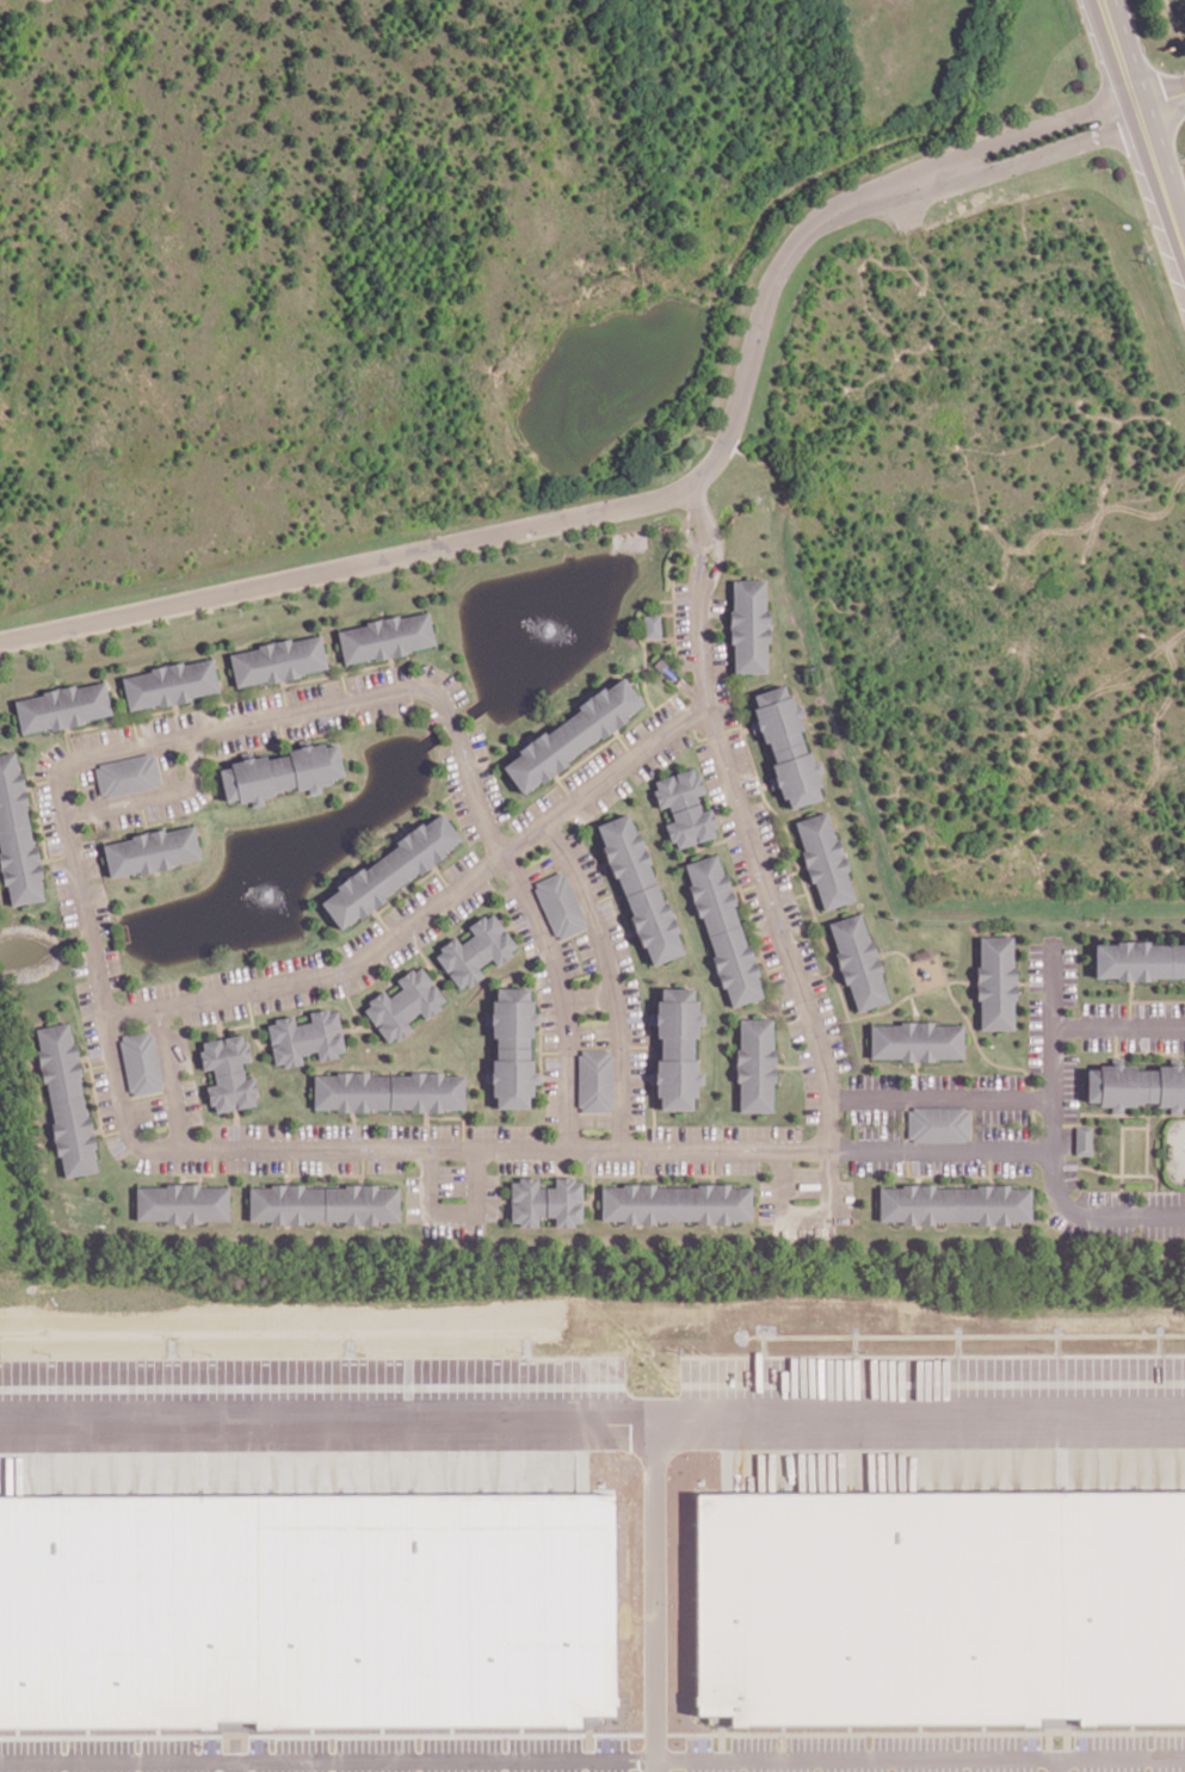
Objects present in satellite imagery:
road: (1119, 54)
road: (1161, 101)
road: (1033, 124)
road: (1149, 143)
road: (1043, 152)
road: (1173, 214)
road: (695, 502)
road: (560, 518)
road: (698, 554)
road: (717, 554)
street lamp: (724, 558)
road: (679, 598)
road: (673, 605)
parking lot: (716, 605)
building: (650, 624)
building: (748, 624)
parking lot: (683, 625)
road: (710, 626)
building: (384, 636)
building: (277, 659)
road: (643, 671)
road: (337, 672)
road: (394, 672)
parking lot: (379, 675)
parking lot: (443, 680)
building: (168, 683)
parking lot: (721, 683)
road: (344, 685)
parking lot: (314, 690)
road: (284, 696)
street lamp: (421, 702)
parking lot: (252, 703)
building: (61, 705)
parking lot: (384, 709)
parking lot: (430, 715)
building: (777, 715)
parking lot: (654, 718)
parking lot: (178, 720)
road: (105, 722)
parking lot: (315, 723)
road: (280, 727)
road: (746, 727)
road: (68, 728)
road: (210, 728)
road: (136, 729)
building: (569, 733)
road: (714, 733)
parking lot: (101, 736)
parking lot: (245, 737)
road: (277, 741)
road: (623, 741)
road: (587, 754)
parking lot: (661, 754)
road: (665, 754)
parking lot: (166, 755)
parking lot: (49, 758)
parking lot: (743, 760)
building: (278, 771)
parking lot: (486, 771)
parking lot: (169, 772)
parking lot: (85, 773)
building: (126, 773)
parking lot: (712, 773)
building: (797, 773)
road: (41, 779)
street lamp: (76, 783)
road: (764, 783)
road: (564, 785)
building: (678, 789)
parking lot: (90, 790)
building: (12, 792)
parking lot: (457, 792)
road: (153, 794)
street lamp: (755, 796)
parking lot: (600, 801)
parking lot: (180, 802)
parking lot: (537, 807)
road: (143, 811)
parking lot: (50, 816)
parking lot: (115, 820)
road: (160, 820)
street lamp: (568, 823)
building: (690, 823)
street lamp: (506, 826)
parking lot: (766, 828)
road: (721, 838)
parking lot: (735, 845)
building: (149, 850)
building: (624, 851)
road: (58, 854)
parking lot: (92, 857)
building: (823, 859)
parking lot: (549, 862)
parking lot: (585, 862)
building: (21, 863)
parking lot: (461, 864)
building: (387, 869)
parking lot: (533, 869)
road: (760, 869)
road: (443, 877)
street lamp: (498, 879)
road: (753, 884)
road: (403, 889)
parking lot: (64, 893)
building: (711, 893)
road: (790, 896)
road: (601, 897)
road: (617, 897)
parking lot: (789, 897)
parking lot: (468, 900)
building: (557, 903)
parking lot: (100, 906)
road: (428, 909)
road: (518, 919)
building: (653, 921)
road: (385, 922)
parking lot: (521, 924)
parking lot: (764, 926)
road: (753, 927)
road: (819, 927)
parking lot: (616, 934)
parking lot: (359, 940)
parking lot: (412, 943)
building: (475, 947)
parking lot: (587, 950)
road: (422, 952)
road: (937, 953)
parking lot: (572, 956)
road: (759, 956)
road: (907, 958)
building: (1130, 959)
building: (1177, 959)
building: (857, 961)
parking lot: (295, 962)
building: (735, 963)
parking lot: (810, 963)
parking lot: (111, 964)
road: (779, 964)
parking lot: (226, 976)
road: (439, 976)
road: (611, 978)
building: (995, 981)
road: (1035, 981)
parking lot: (352, 982)
parking lot: (158, 989)
street lamp: (119, 993)
road: (563, 995)
road: (590, 995)
street lamp: (945, 998)
parking lot: (285, 999)
road: (348, 999)
road: (1156, 1000)
building: (403, 1002)
road: (1129, 1002)
parking lot: (789, 1004)
road: (913, 1005)
parking lot: (548, 1007)
parking lot: (632, 1008)
street lamp: (1073, 1008)
parking lot: (1103, 1008)
parking lot: (1159, 1008)
parking lot: (214, 1012)
building: (511, 1014)
building: (675, 1015)
parking lot: (90, 1019)
road: (252, 1020)
street lamp: (180, 1021)
road: (236, 1025)
road: (1118, 1025)
road: (218, 1027)
road: (358, 1027)
parking lot: (603, 1032)
parking lot: (832, 1032)
parking lot: (585, 1033)
parking lot: (1036, 1033)
building: (305, 1035)
road: (1115, 1038)
building: (915, 1039)
parking lot: (1094, 1042)
parking lot: (1152, 1042)
road: (643, 1044)
road: (979, 1045)
road: (539, 1046)
parking lot: (180, 1049)
road: (554, 1050)
road: (1051, 1051)
building: (222, 1052)
building: (61, 1061)
building: (140, 1061)
road: (98, 1062)
building: (755, 1062)
road: (800, 1064)
building: (511, 1075)
building: (675, 1075)
road: (169, 1076)
road: (554, 1076)
building: (594, 1079)
street lamp: (844, 1079)
road: (915, 1079)
parking lot: (875, 1080)
parking lot: (936, 1080)
parking lot: (996, 1080)
parking lot: (810, 1083)
building: (1113, 1083)
building: (1166, 1085)
parking lot: (1068, 1086)
parking lot: (553, 1087)
building: (229, 1088)
parking lot: (637, 1088)
building: (350, 1089)
building: (425, 1089)
parking lot: (105, 1097)
road: (940, 1097)
parking lot: (191, 1101)
road: (98, 1105)
parking lot: (159, 1109)
road: (1117, 1111)
parking lot: (141, 1112)
parking lot: (875, 1113)
parking lot: (1000, 1113)
road: (461, 1116)
road: (653, 1116)
road: (427, 1117)
parking lot: (586, 1119)
parking lot: (604, 1119)
building: (938, 1122)
road: (235, 1126)
road: (99, 1128)
parking lot: (337, 1129)
road: (356, 1129)
street lamp: (718, 1129)
street lamp: (809, 1129)
parking lot: (251, 1130)
parking lot: (422, 1130)
parking lot: (505, 1130)
parking lot: (681, 1131)
parking lot: (763, 1131)
parking lot: (878, 1131)
parking lot: (1000, 1131)
street lamp: (594, 1132)
building: (75, 1134)
building: (1081, 1138)
road: (1146, 1142)
parking lot: (116, 1144)
road: (1119, 1144)
road: (612, 1148)
park: (1132, 1149)
road: (289, 1159)
road: (638, 1160)
road: (712, 1160)
parking lot: (172, 1162)
parking lot: (252, 1163)
parking lot: (327, 1163)
parking lot: (385, 1163)
street lamp: (492, 1163)
parking lot: (531, 1163)
parking lot: (606, 1163)
parking lot: (737, 1163)
parking lot: (674, 1165)
street lamp: (766, 1165)
parking lot: (948, 1165)
parking lot: (1011, 1165)
street lamp: (1035, 1166)
road: (206, 1172)
road: (334, 1172)
road: (1109, 1172)
road: (638, 1173)
road: (948, 1174)
road: (193, 1177)
road: (363, 1177)
parking lot: (453, 1180)
parking lot: (806, 1181)
street lamp: (1074, 1191)
parking lot: (493, 1194)
parking lot: (414, 1197)
parking lot: (1162, 1197)
building: (526, 1199)
building: (562, 1199)
parking lot: (766, 1199)
parking lot: (846, 1200)
building: (180, 1202)
building: (285, 1202)
building: (675, 1202)
building: (952, 1202)
building: (360, 1203)
road: (453, 1212)
road: (806, 1214)
parking lot: (455, 1227)
parking lot: (1088, 1227)
parking lot: (804, 1228)
street lamp: (1136, 1229)
road: (747, 1415)
road: (334, 1416)
building: (934, 1597)
building: (304, 1604)
building: (1054, 1721)
road: (846, 1756)
road: (1107, 1759)
road: (442, 1760)
road: (121, 1762)

